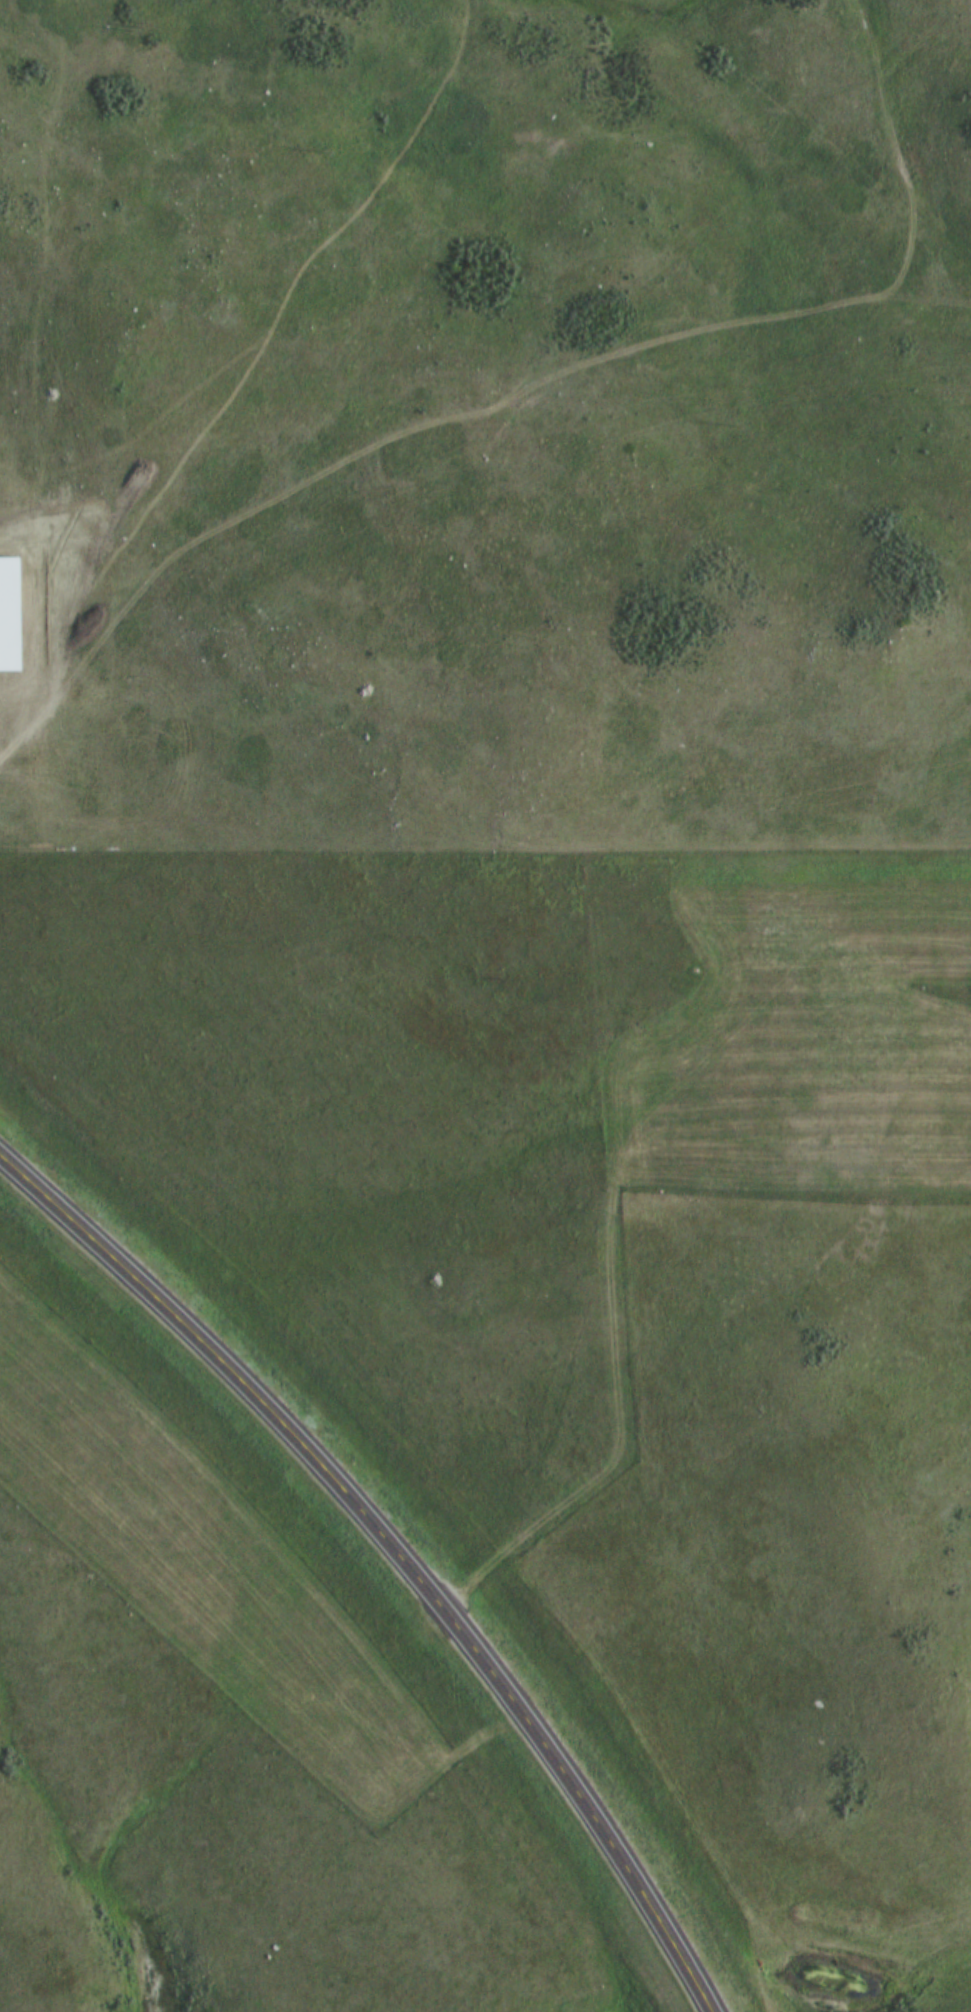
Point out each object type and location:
road: (398, 1549)

